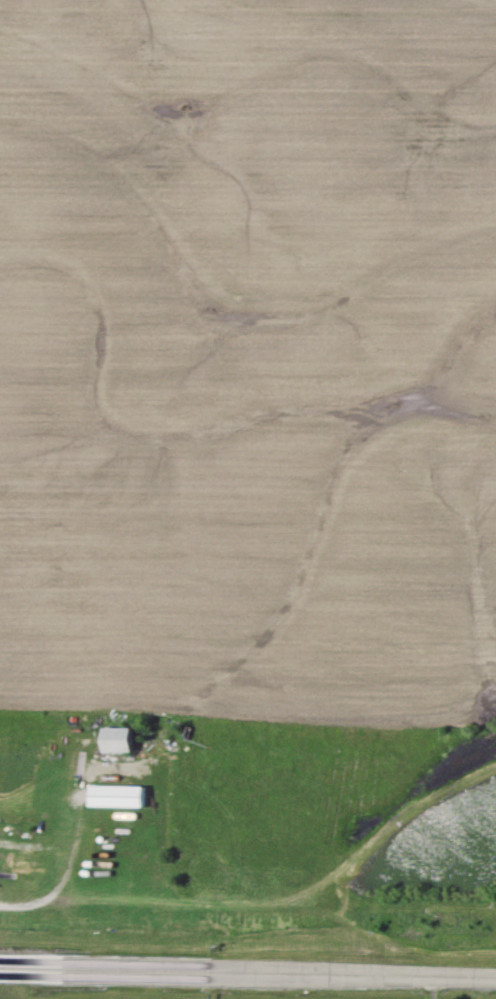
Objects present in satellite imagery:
building: (120, 740)
road: (76, 840)
track: (247, 971)
road: (431, 987)

